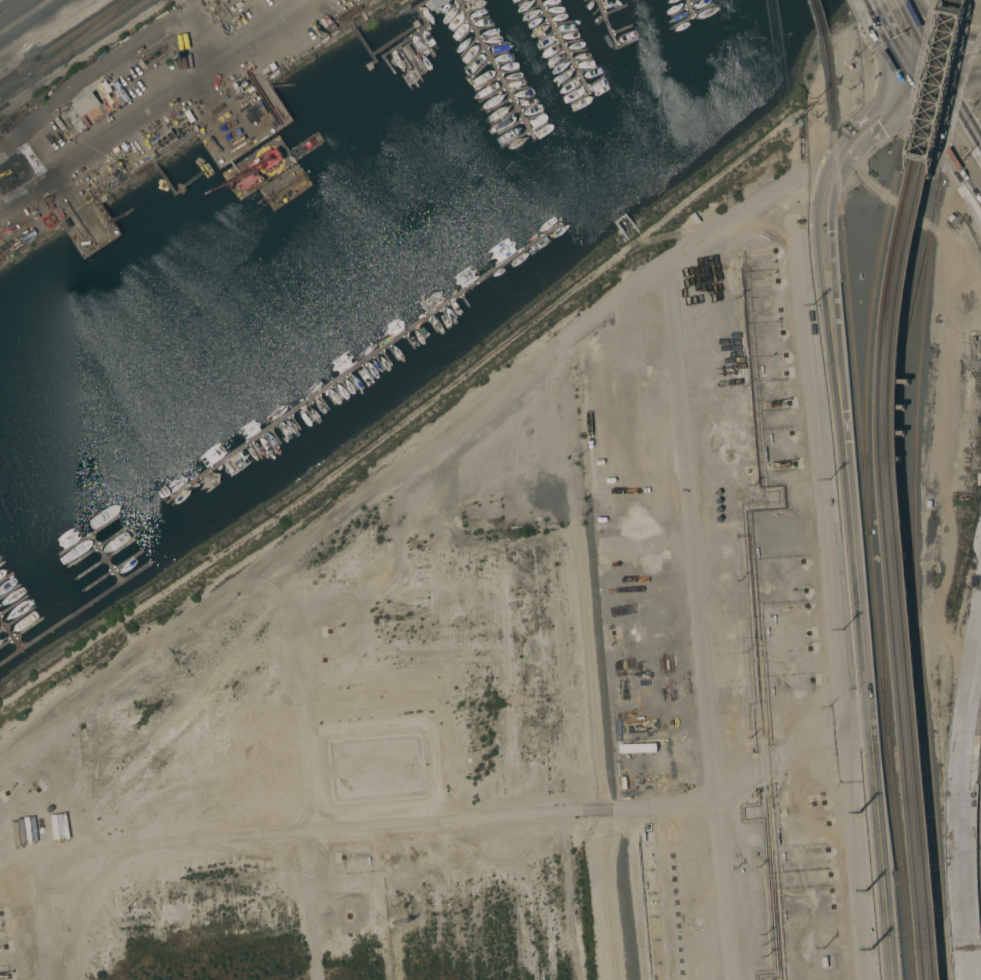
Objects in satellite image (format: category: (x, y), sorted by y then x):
building: (435, 3)
road: (887, 6)
railway: (23, 15)
railway: (820, 17)
road: (256, 31)
railway: (86, 39)
railway: (62, 40)
railway: (78, 40)
road: (910, 46)
building: (409, 51)
road: (105, 59)
road: (976, 59)
road: (949, 72)
traffic signals: (928, 83)
railway: (14, 87)
building: (88, 105)
road: (959, 111)
road: (104, 134)
road: (944, 156)
building: (951, 217)
railway: (880, 254)
railway: (848, 274)
railway: (889, 460)
railway: (884, 487)
railway: (896, 487)
railway: (915, 503)
building: (928, 504)
road: (850, 510)
road: (688, 526)
road: (959, 703)
road: (792, 743)
road: (967, 746)
railway: (889, 747)
road: (962, 903)
building: (824, 961)

